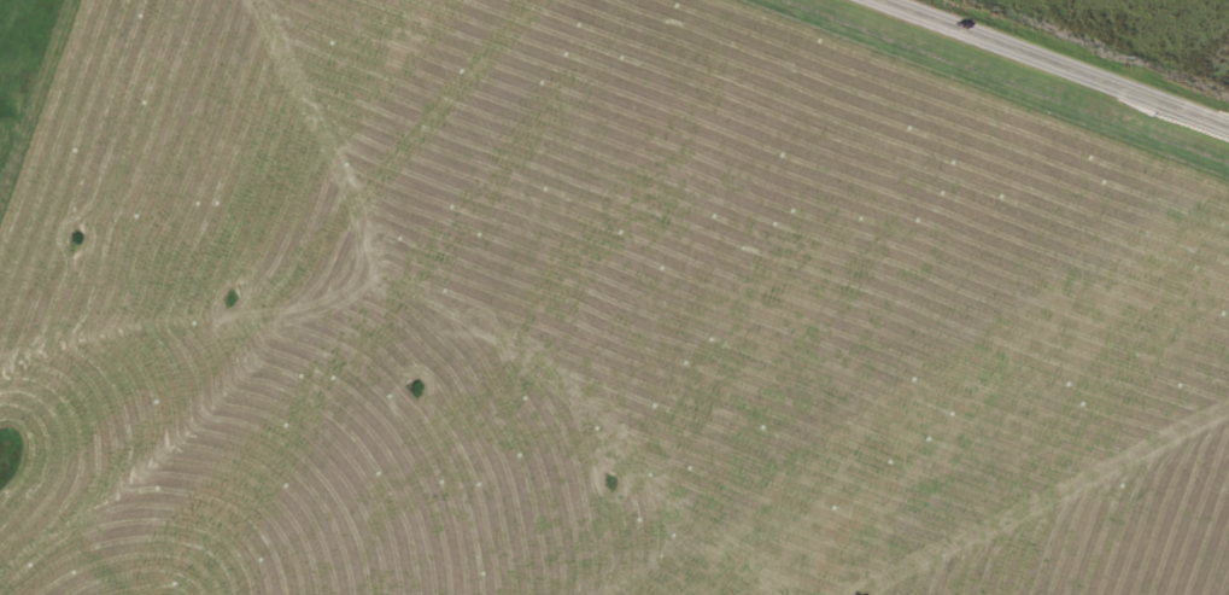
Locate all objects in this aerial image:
road: (1053, 63)

